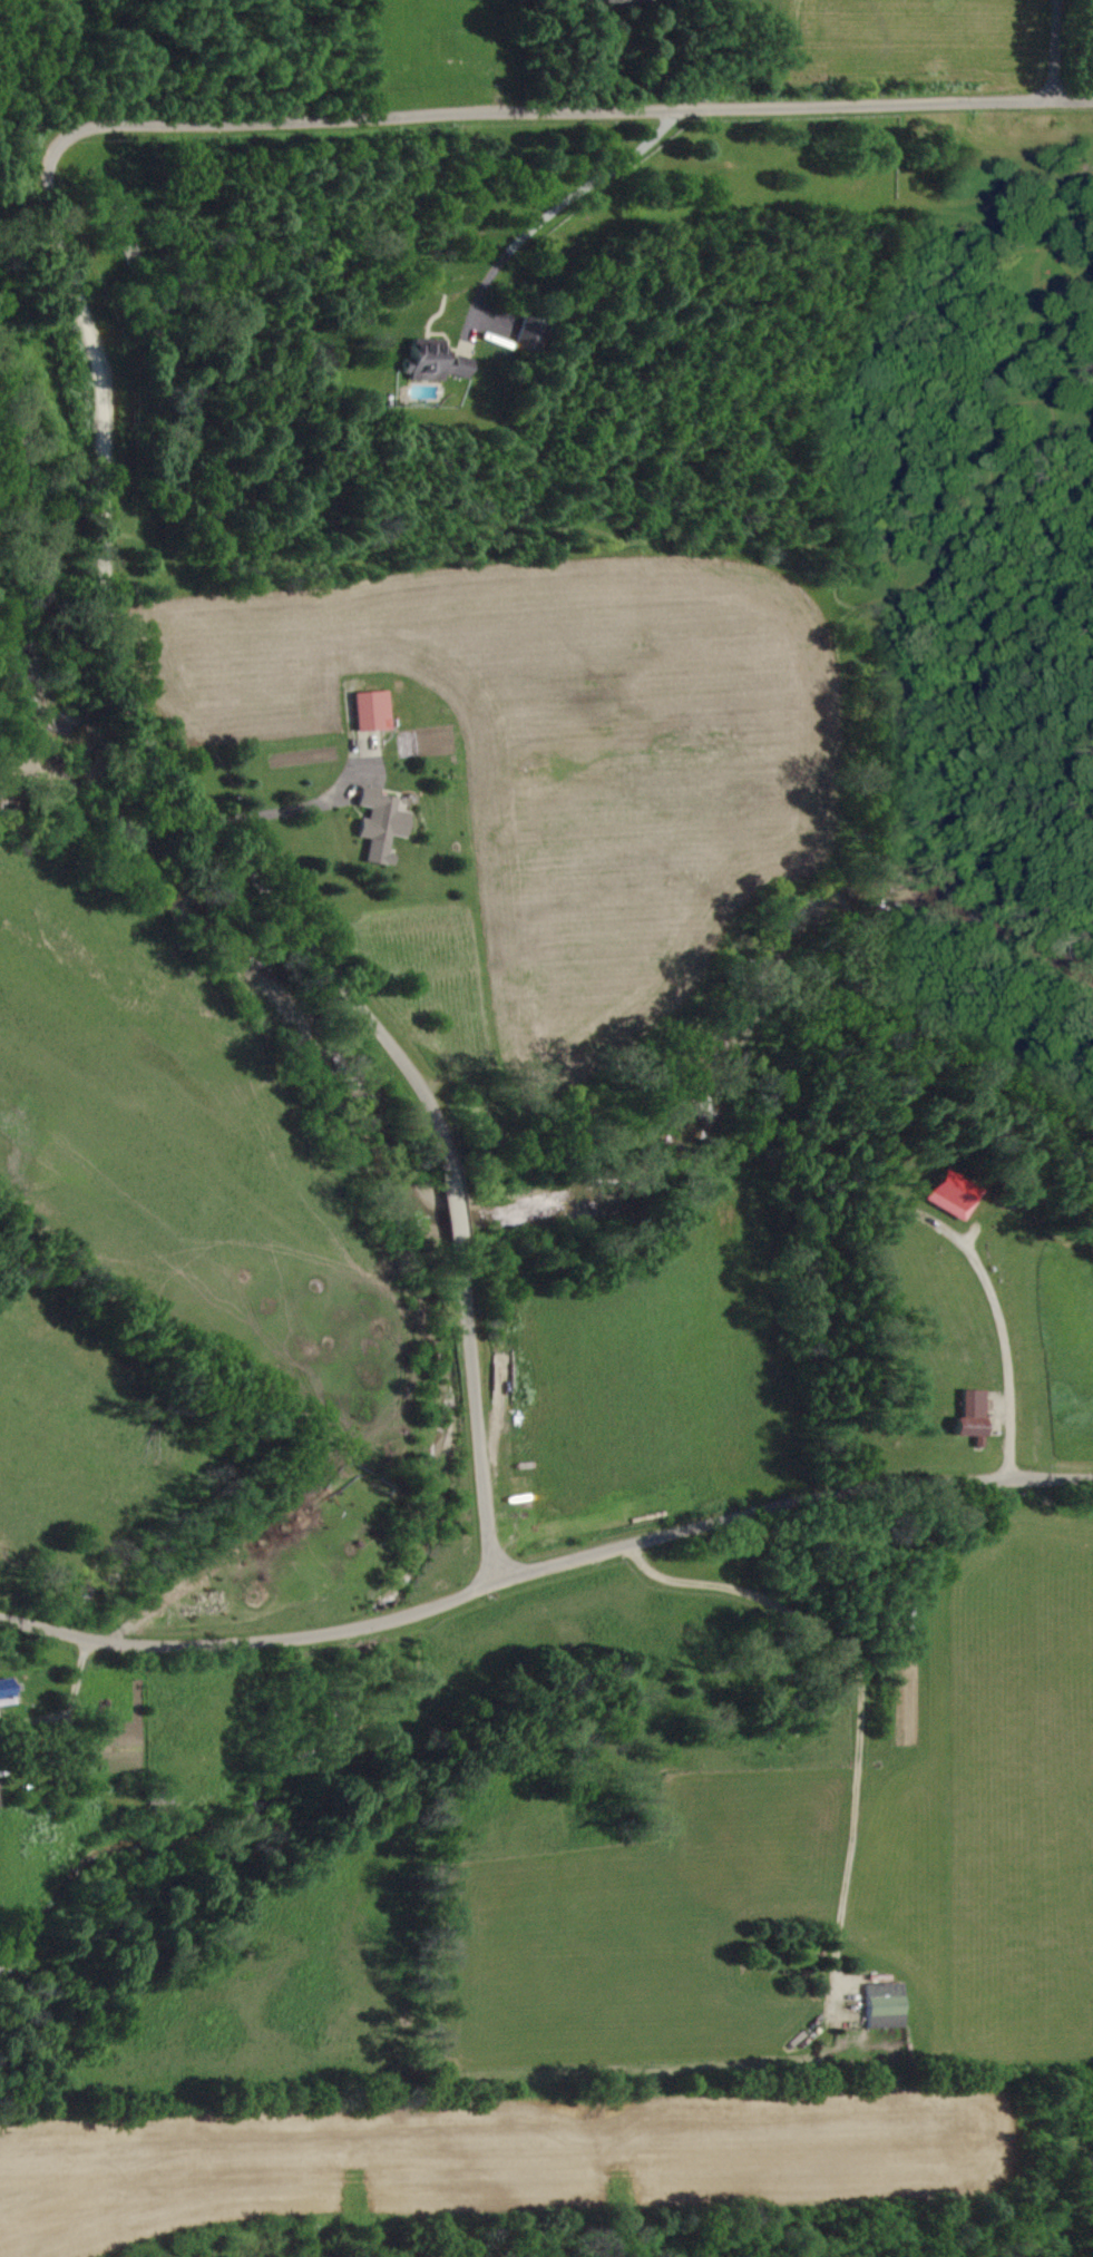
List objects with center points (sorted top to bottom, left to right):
road: (1055, 50)
road: (567, 110)
road: (562, 203)
building: (533, 335)
building: (438, 363)
road: (124, 704)
building: (374, 711)
road: (283, 811)
building: (383, 824)
building: (955, 1194)
road: (455, 1211)
building: (976, 1414)
road: (477, 1420)
road: (544, 1566)
building: (11, 1692)
road: (863, 1697)
building: (0, 1800)
building: (886, 2006)

